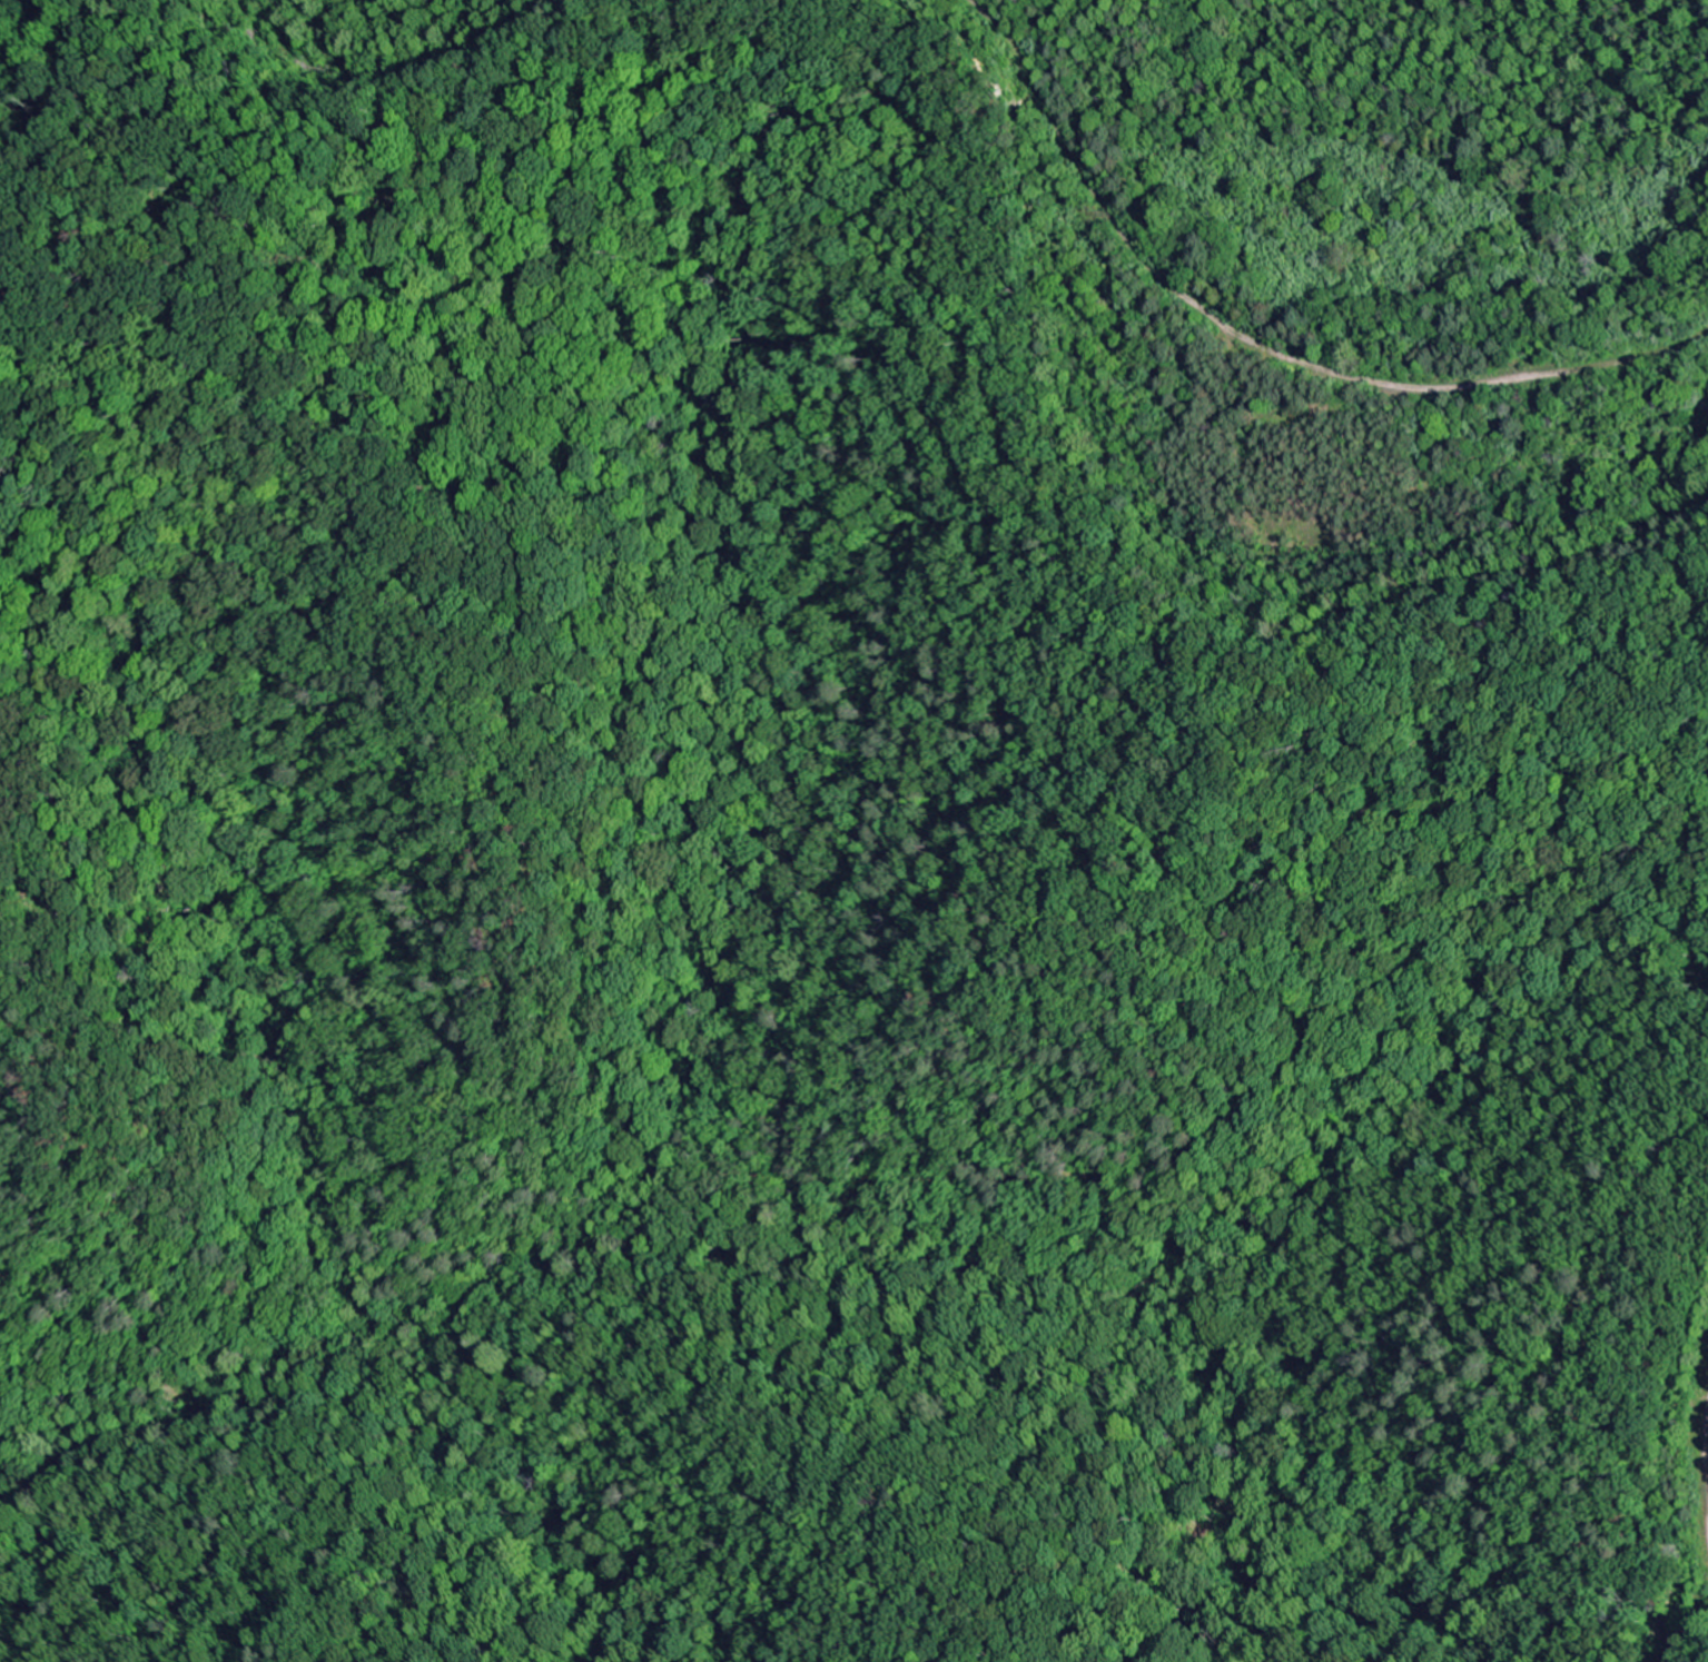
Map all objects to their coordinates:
road: (1186, 396)
road: (1701, 931)
road: (902, 1296)
road: (1631, 1310)

